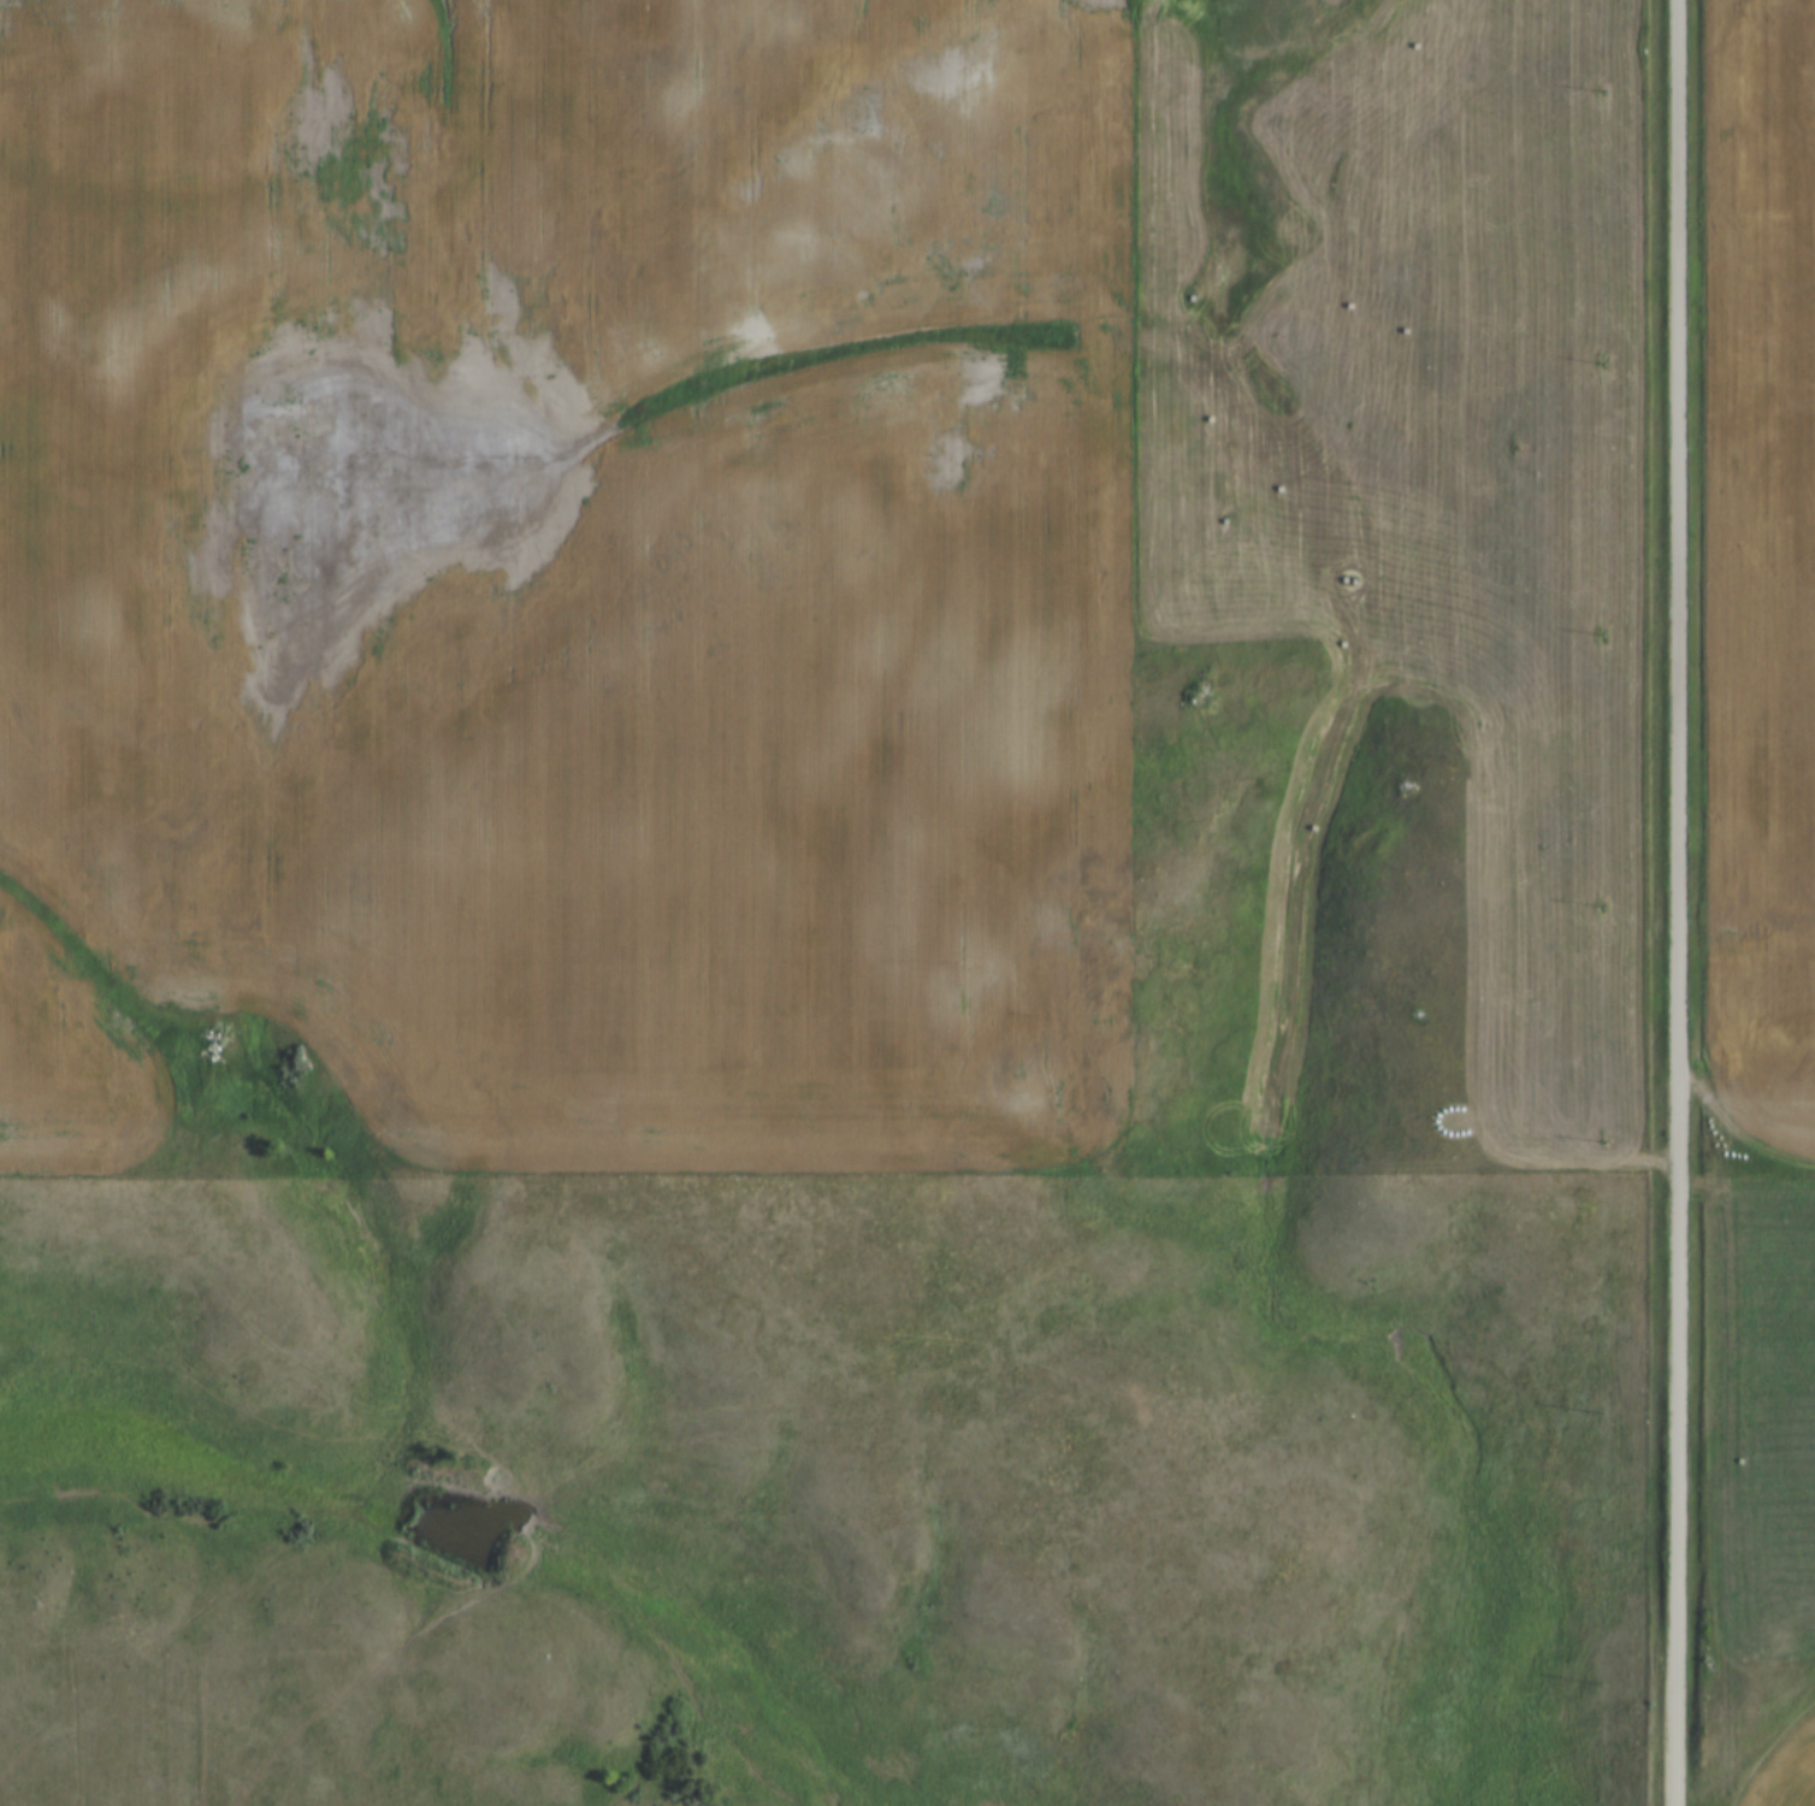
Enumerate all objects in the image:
road: (1679, 903)
road: (1744, 1123)

